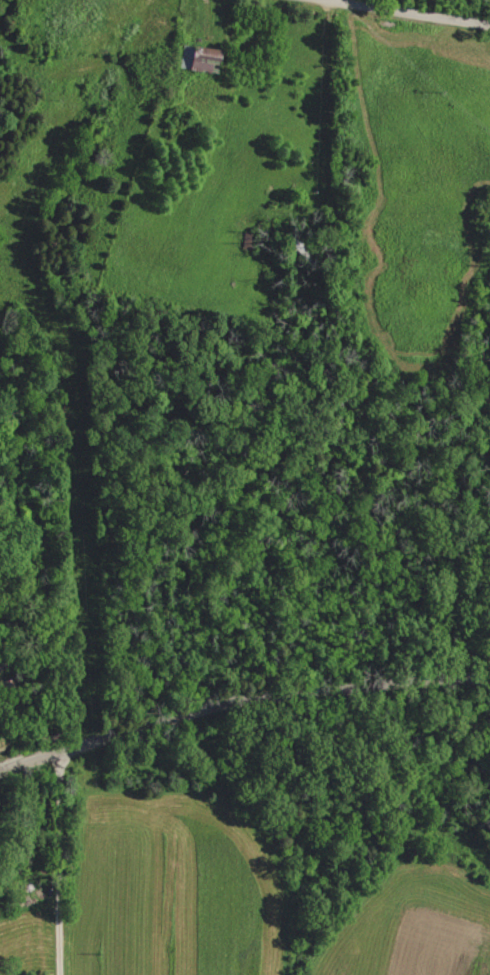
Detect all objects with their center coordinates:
road: (364, 18)
building: (195, 59)
road: (240, 695)
road: (60, 862)

